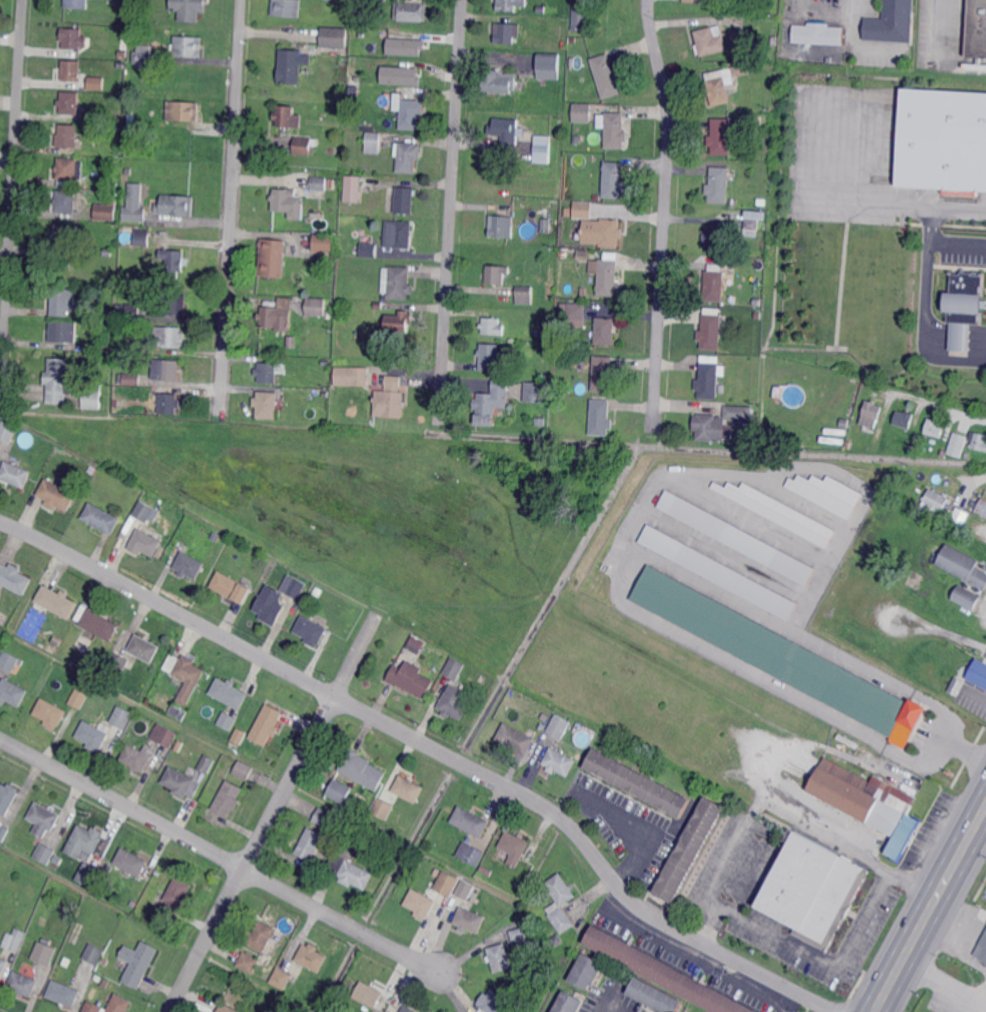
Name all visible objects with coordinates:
building: (380, 0)
building: (692, 0)
building: (713, 0)
building: (161, 1)
building: (77, 4)
building: (510, 5)
building: (287, 8)
building: (770, 8)
building: (189, 9)
building: (540, 9)
building: (409, 12)
building: (581, 17)
road: (850, 18)
building: (138, 19)
building: (892, 23)
building: (977, 29)
building: (507, 32)
building: (817, 34)
building: (331, 37)
building: (74, 39)
building: (711, 41)
building: (773, 41)
building: (187, 46)
building: (403, 46)
building: (122, 54)
building: (143, 56)
building: (120, 65)
building: (292, 65)
building: (549, 66)
building: (71, 71)
building: (739, 71)
building: (398, 74)
building: (606, 76)
building: (500, 81)
building: (96, 83)
road: (801, 85)
building: (716, 91)
building: (69, 103)
building: (183, 111)
building: (353, 111)
building: (580, 111)
building: (411, 113)
building: (288, 117)
building: (133, 118)
building: (117, 119)
building: (506, 130)
building: (615, 131)
building: (67, 136)
building: (720, 136)
building: (575, 139)
building: (942, 139)
building: (374, 143)
building: (304, 145)
building: (542, 149)
building: (408, 157)
building: (70, 173)
building: (613, 180)
building: (332, 184)
building: (719, 185)
building: (113, 186)
building: (318, 188)
building: (352, 189)
building: (405, 200)
road: (12, 201)
building: (66, 201)
building: (734, 202)
road: (909, 202)
building: (135, 203)
building: (289, 203)
building: (175, 205)
road: (232, 208)
road: (450, 209)
building: (582, 210)
building: (545, 211)
building: (106, 212)
building: (566, 212)
road: (664, 212)
building: (546, 225)
building: (754, 225)
building: (501, 226)
building: (609, 233)
building: (399, 234)
building: (64, 236)
building: (143, 237)
building: (716, 239)
building: (323, 242)
road: (957, 242)
building: (368, 250)
building: (108, 251)
building: (562, 254)
building: (582, 255)
building: (271, 258)
parking lot: (962, 258)
building: (174, 262)
building: (495, 274)
building: (606, 276)
building: (730, 281)
building: (714, 283)
building: (399, 284)
building: (583, 291)
building: (524, 295)
building: (964, 297)
building: (62, 299)
building: (385, 299)
building: (145, 302)
building: (167, 305)
building: (377, 306)
building: (316, 307)
road: (925, 307)
building: (562, 308)
building: (119, 310)
building: (131, 312)
building: (100, 313)
building: (575, 315)
building: (278, 316)
building: (757, 316)
building: (143, 318)
building: (399, 321)
road: (937, 325)
building: (493, 326)
building: (130, 327)
road: (977, 327)
building: (604, 330)
building: (64, 331)
building: (711, 331)
road: (936, 332)
building: (957, 335)
road: (977, 335)
building: (168, 336)
building: (292, 341)
road: (936, 341)
road: (976, 343)
building: (105, 348)
building: (129, 349)
road: (958, 351)
building: (489, 356)
building: (325, 363)
building: (166, 369)
building: (267, 372)
building: (542, 373)
building: (602, 373)
building: (350, 377)
building: (128, 380)
building: (708, 380)
building: (60, 381)
building: (720, 389)
building: (536, 391)
building: (324, 395)
building: (91, 397)
building: (390, 398)
road: (926, 401)
building: (490, 403)
building: (168, 404)
building: (267, 404)
building: (736, 412)
building: (870, 414)
building: (600, 417)
building: (509, 418)
building: (904, 418)
building: (540, 421)
building: (844, 424)
building: (934, 427)
building: (708, 428)
building: (8, 431)
building: (978, 440)
building: (957, 444)
building: (92, 469)
building: (15, 474)
building: (898, 488)
building: (825, 492)
building: (57, 495)
building: (934, 501)
building: (982, 506)
building: (778, 511)
building: (143, 513)
building: (960, 516)
building: (101, 518)
building: (215, 537)
building: (737, 538)
building: (146, 542)
building: (189, 565)
building: (962, 565)
building: (718, 573)
building: (14, 578)
building: (232, 587)
building: (294, 587)
building: (319, 591)
building: (966, 597)
building: (57, 601)
building: (270, 605)
building: (100, 624)
building: (311, 630)
building: (415, 645)
building: (144, 648)
building: (51, 649)
building: (781, 656)
building: (9, 662)
building: (118, 664)
building: (455, 668)
building: (979, 671)
building: (186, 676)
building: (411, 678)
building: (483, 679)
building: (12, 692)
building: (229, 693)
building: (79, 698)
building: (455, 702)
building: (124, 705)
building: (50, 713)
building: (177, 713)
building: (121, 718)
building: (227, 720)
building: (267, 724)
building: (541, 727)
building: (558, 727)
building: (165, 735)
building: (92, 737)
building: (239, 737)
building: (516, 738)
building: (849, 742)
road: (434, 747)
building: (136, 760)
building: (560, 762)
building: (207, 763)
building: (363, 769)
building: (243, 771)
building: (182, 783)
building: (638, 783)
building: (408, 788)
building: (340, 791)
building: (6, 798)
building: (229, 798)
road: (771, 798)
building: (866, 803)
building: (382, 809)
road: (274, 812)
building: (322, 818)
building: (42, 820)
building: (471, 821)
road: (640, 830)
building: (4, 832)
building: (403, 832)
building: (349, 837)
building: (87, 843)
building: (310, 843)
building: (514, 847)
building: (689, 849)
building: (43, 854)
building: (470, 854)
road: (221, 856)
building: (55, 859)
building: (130, 863)
building: (418, 866)
road: (720, 866)
building: (484, 870)
building: (350, 872)
building: (436, 872)
building: (87, 877)
building: (446, 884)
building: (464, 890)
building: (811, 891)
building: (179, 893)
road: (937, 898)
building: (560, 902)
building: (133, 903)
building: (421, 904)
building: (470, 920)
building: (519, 933)
building: (260, 936)
building: (15, 939)
building: (556, 941)
building: (282, 946)
road: (952, 950)
building: (982, 950)
building: (43, 953)
building: (94, 954)
building: (312, 957)
building: (500, 958)
building: (105, 962)
building: (249, 962)
road: (823, 962)
building: (138, 963)
building: (3, 966)
building: (587, 971)
building: (661, 973)
building: (98, 978)
building: (282, 978)
road: (944, 979)
building: (23, 983)
building: (103, 983)
building: (63, 993)
building: (369, 994)
building: (654, 996)
road: (882, 1000)
building: (491, 1002)
building: (567, 1003)
building: (120, 1004)
building: (92, 1007)
building: (228, 1008)
building: (343, 1009)
building: (406, 1010)

